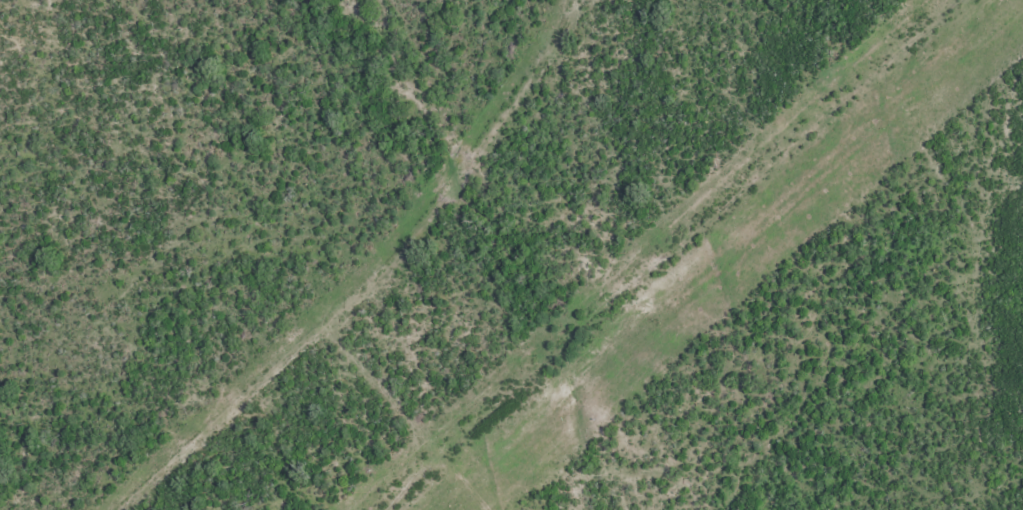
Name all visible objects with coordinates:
road: (848, 310)

